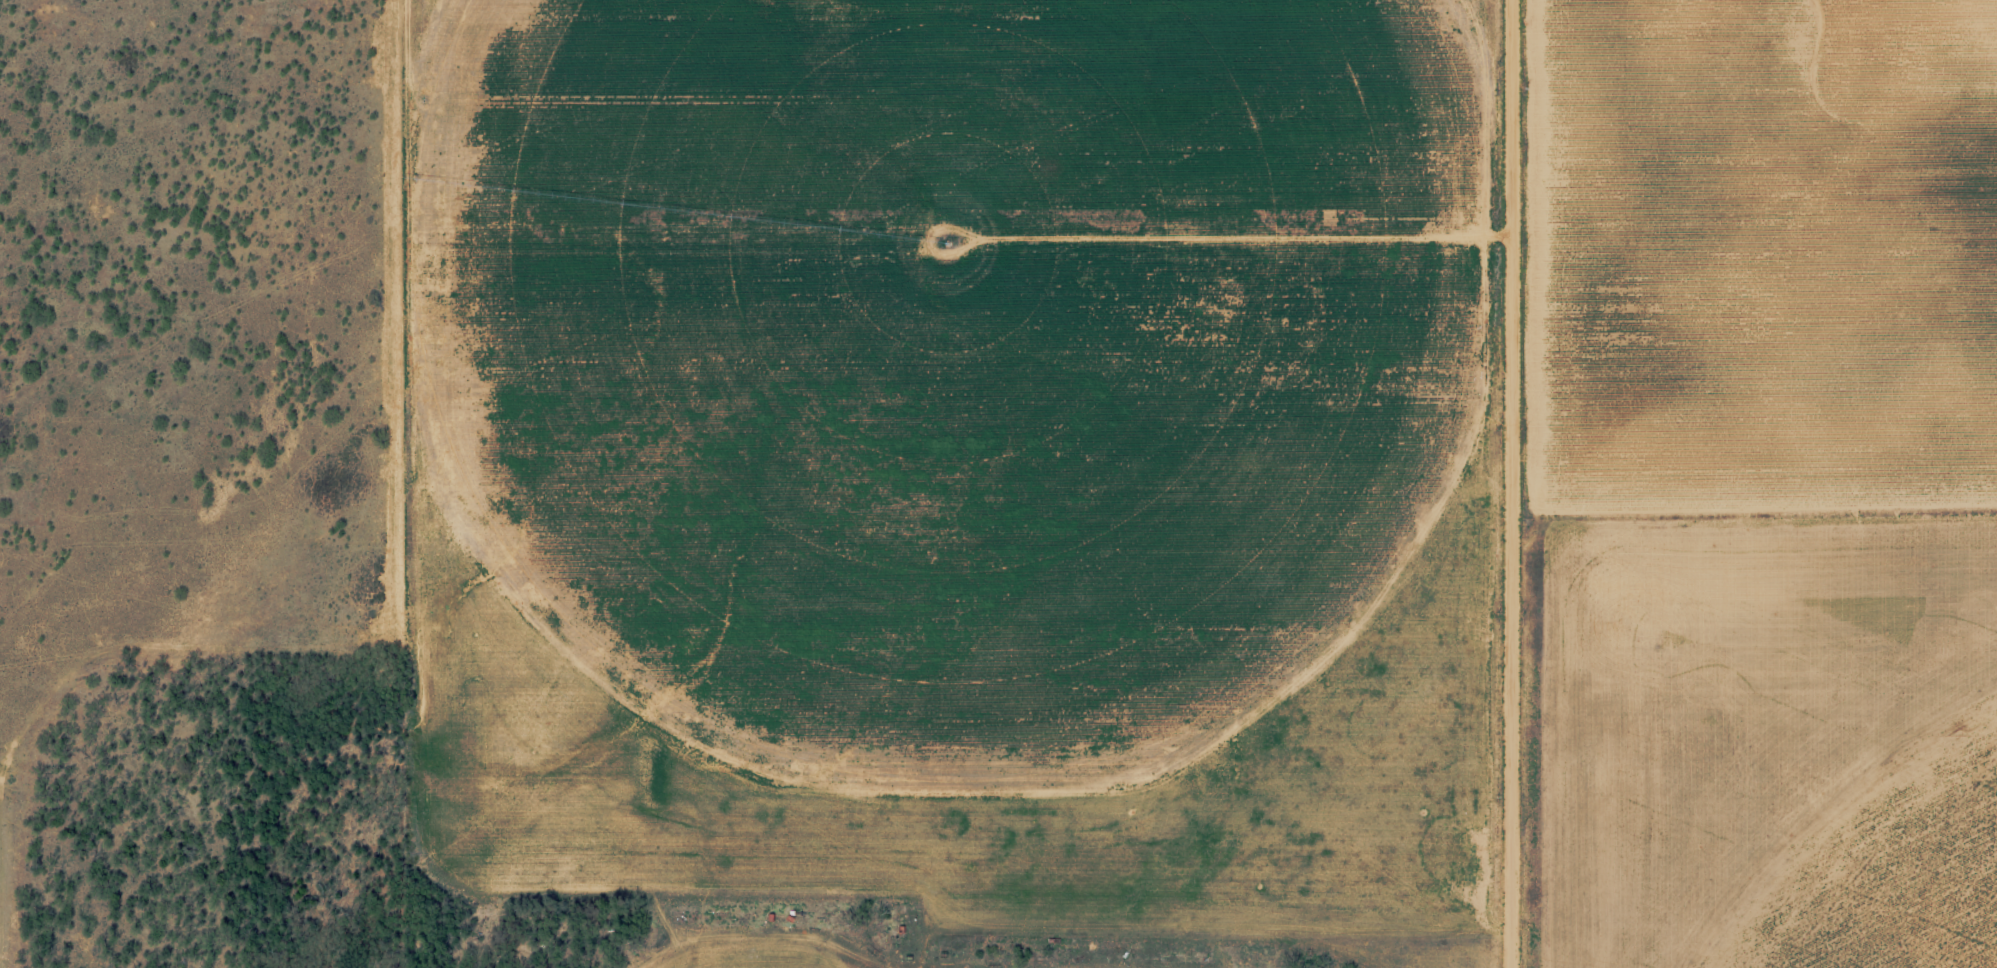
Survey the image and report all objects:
road: (1511, 484)

